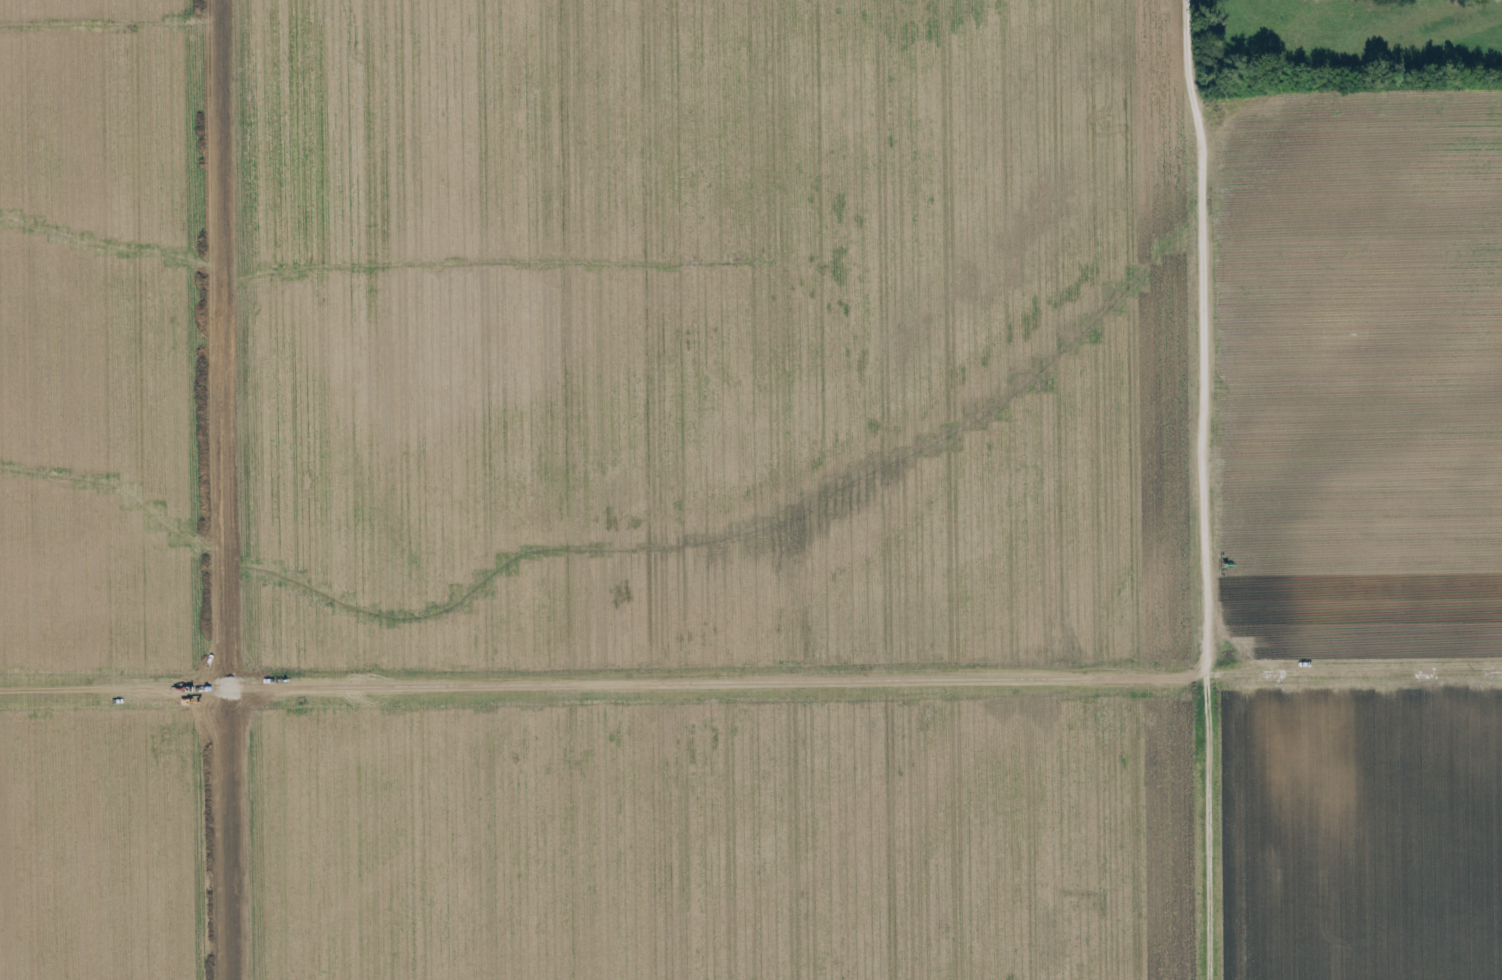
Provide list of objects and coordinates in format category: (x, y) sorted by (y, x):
road: (1203, 489)
road: (751, 681)

